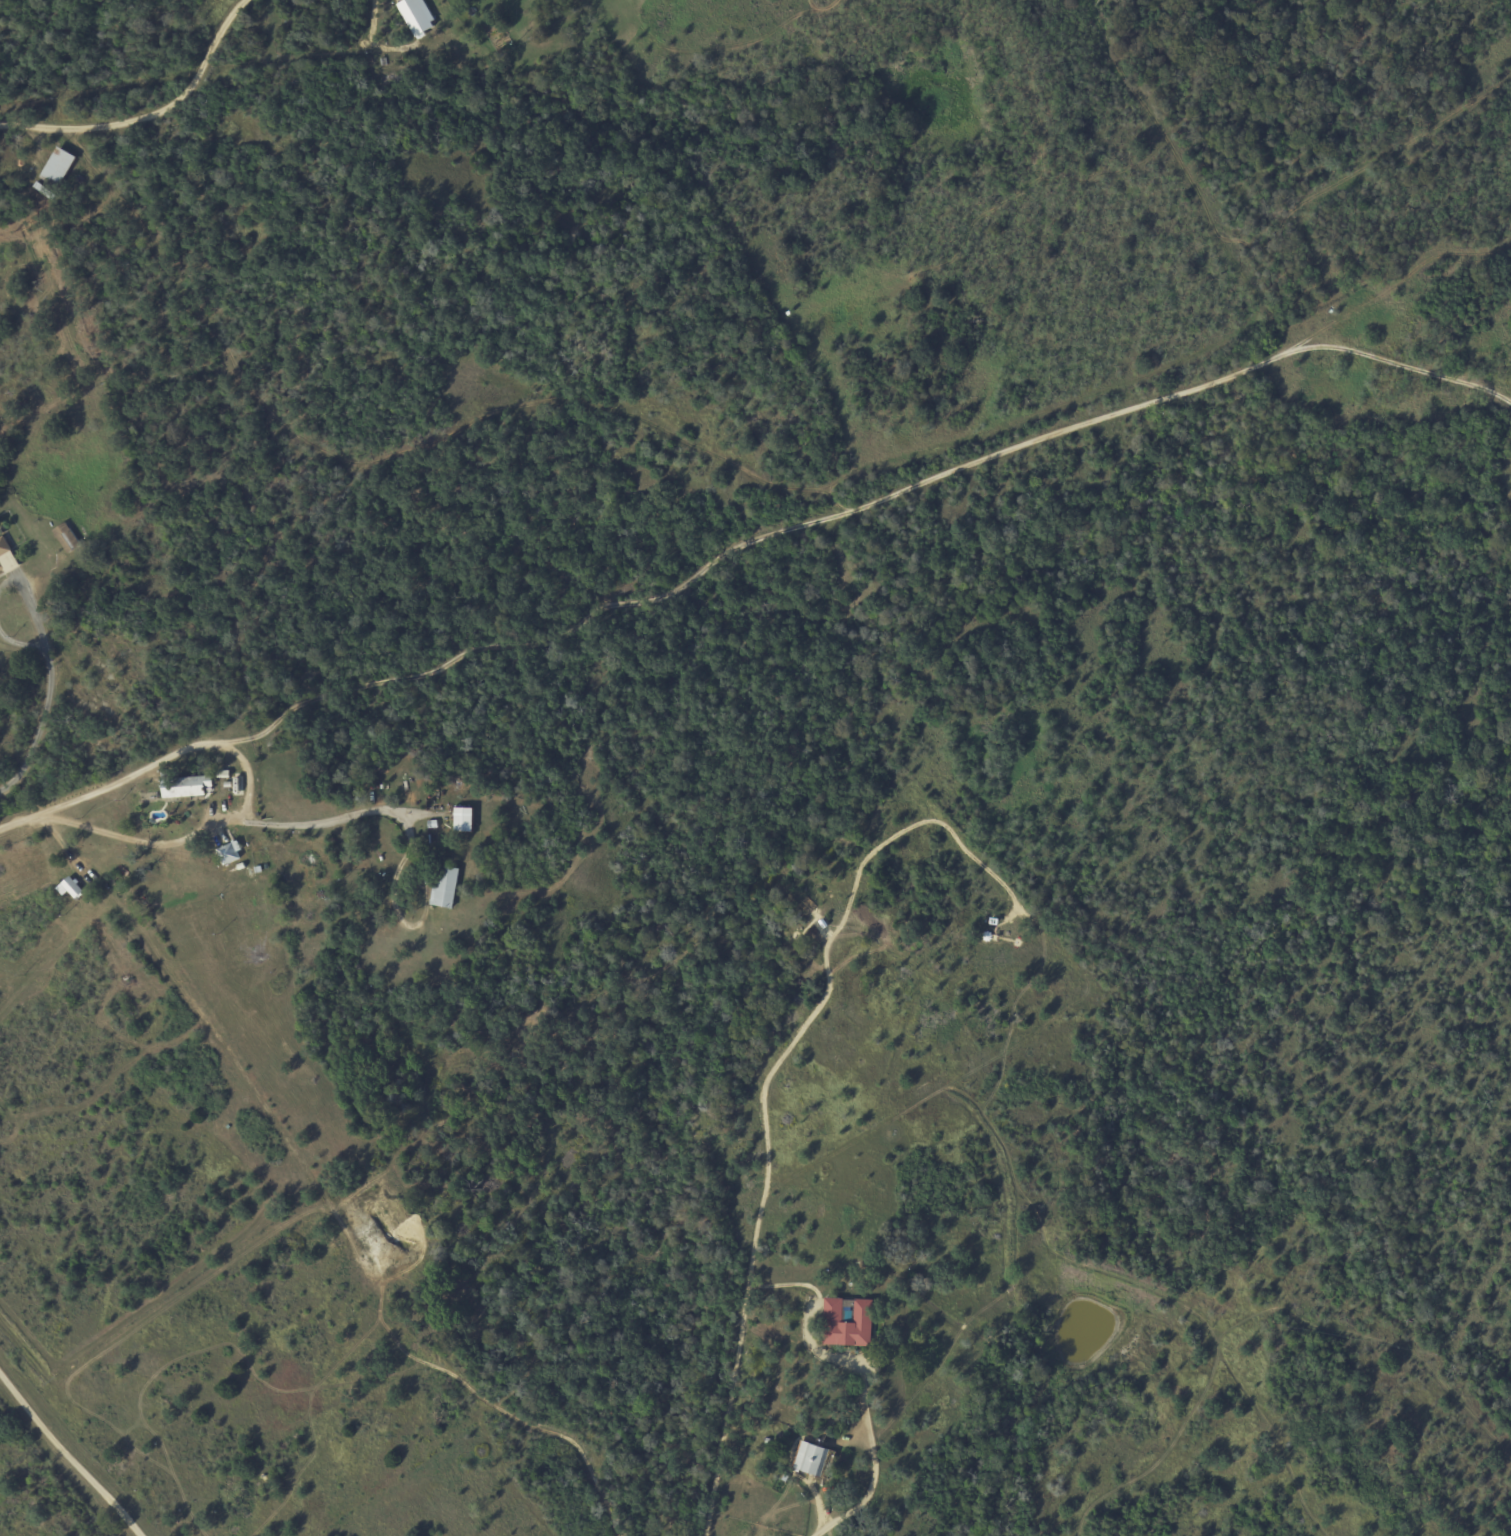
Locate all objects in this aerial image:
building: (417, 16)
road: (150, 116)
building: (59, 165)
road: (969, 465)
building: (67, 537)
building: (6, 557)
road: (222, 742)
building: (185, 785)
building: (464, 819)
road: (326, 821)
road: (187, 838)
building: (229, 853)
building: (70, 887)
building: (446, 887)
road: (207, 1059)
road: (765, 1086)
building: (848, 1322)
road: (64, 1459)
building: (816, 1460)
road: (867, 1466)

